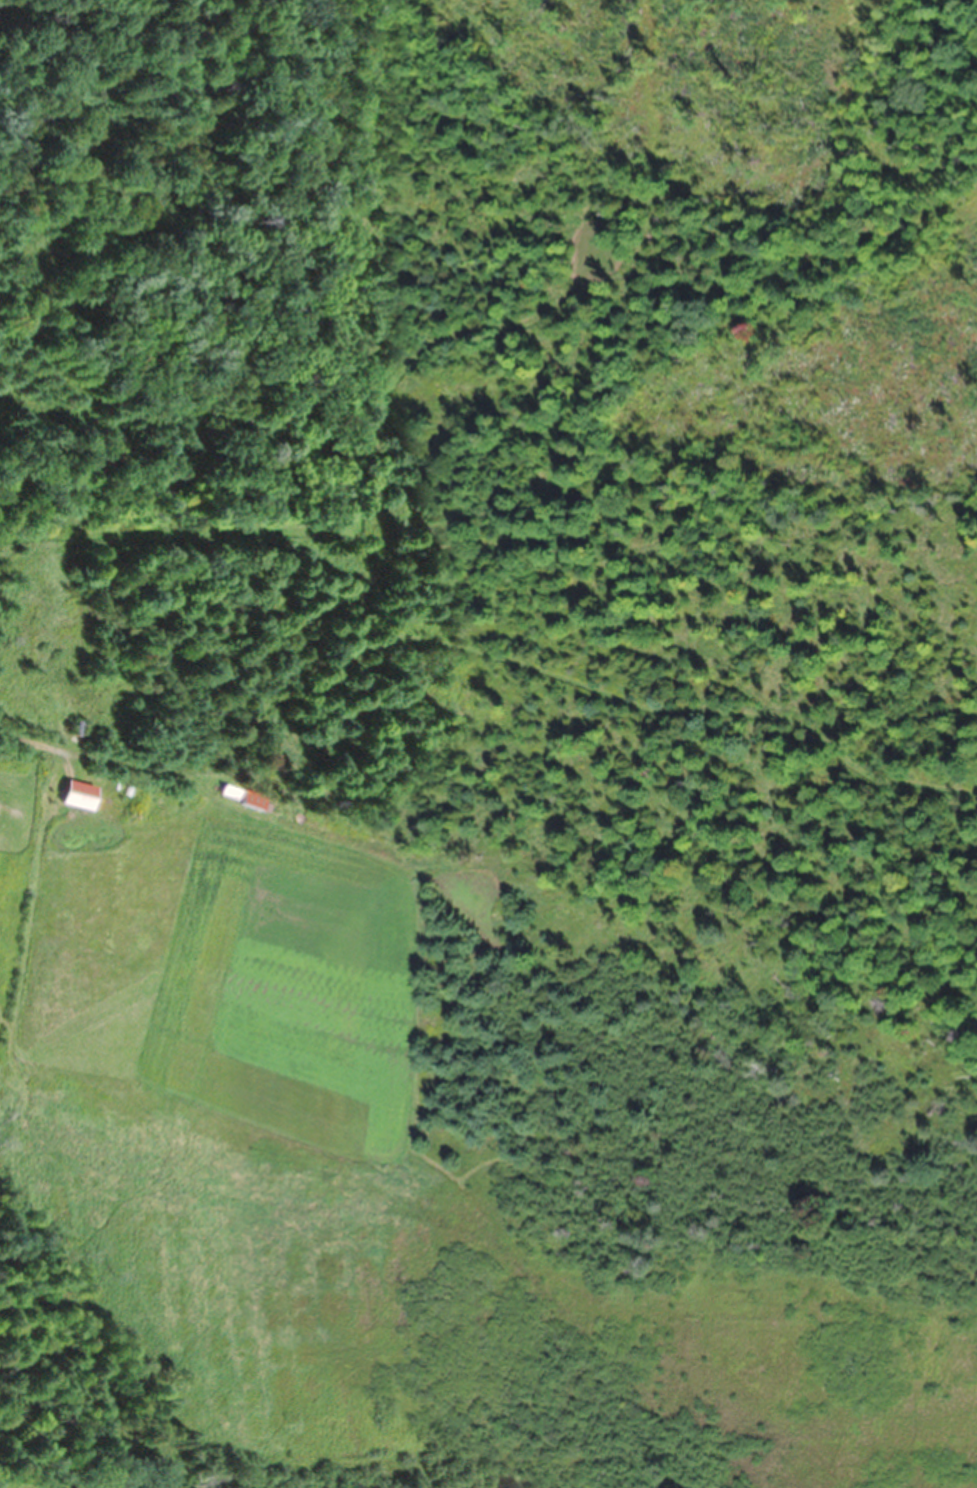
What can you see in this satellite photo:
building: (72, 794)

